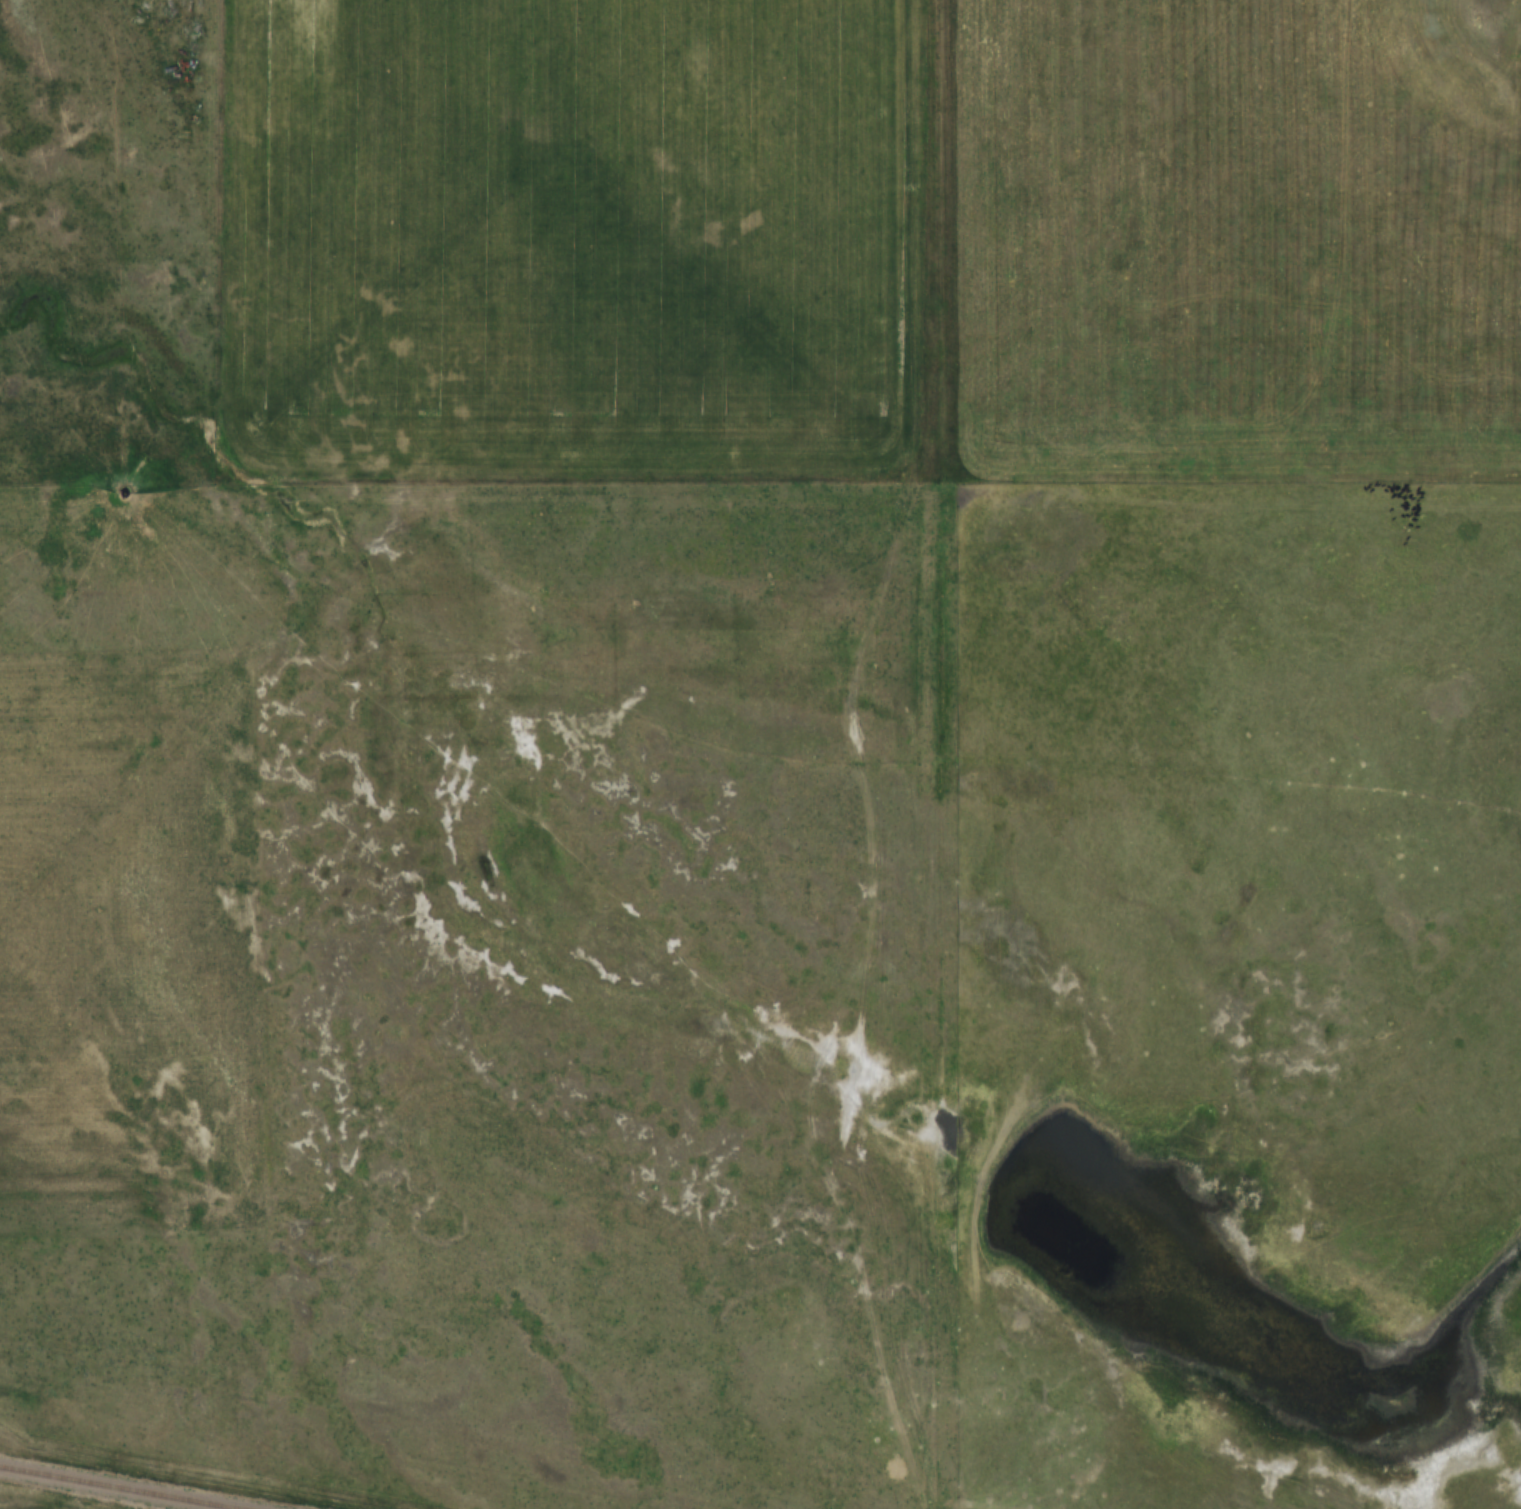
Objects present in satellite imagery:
road: (917, 236)
railway: (118, 1488)

